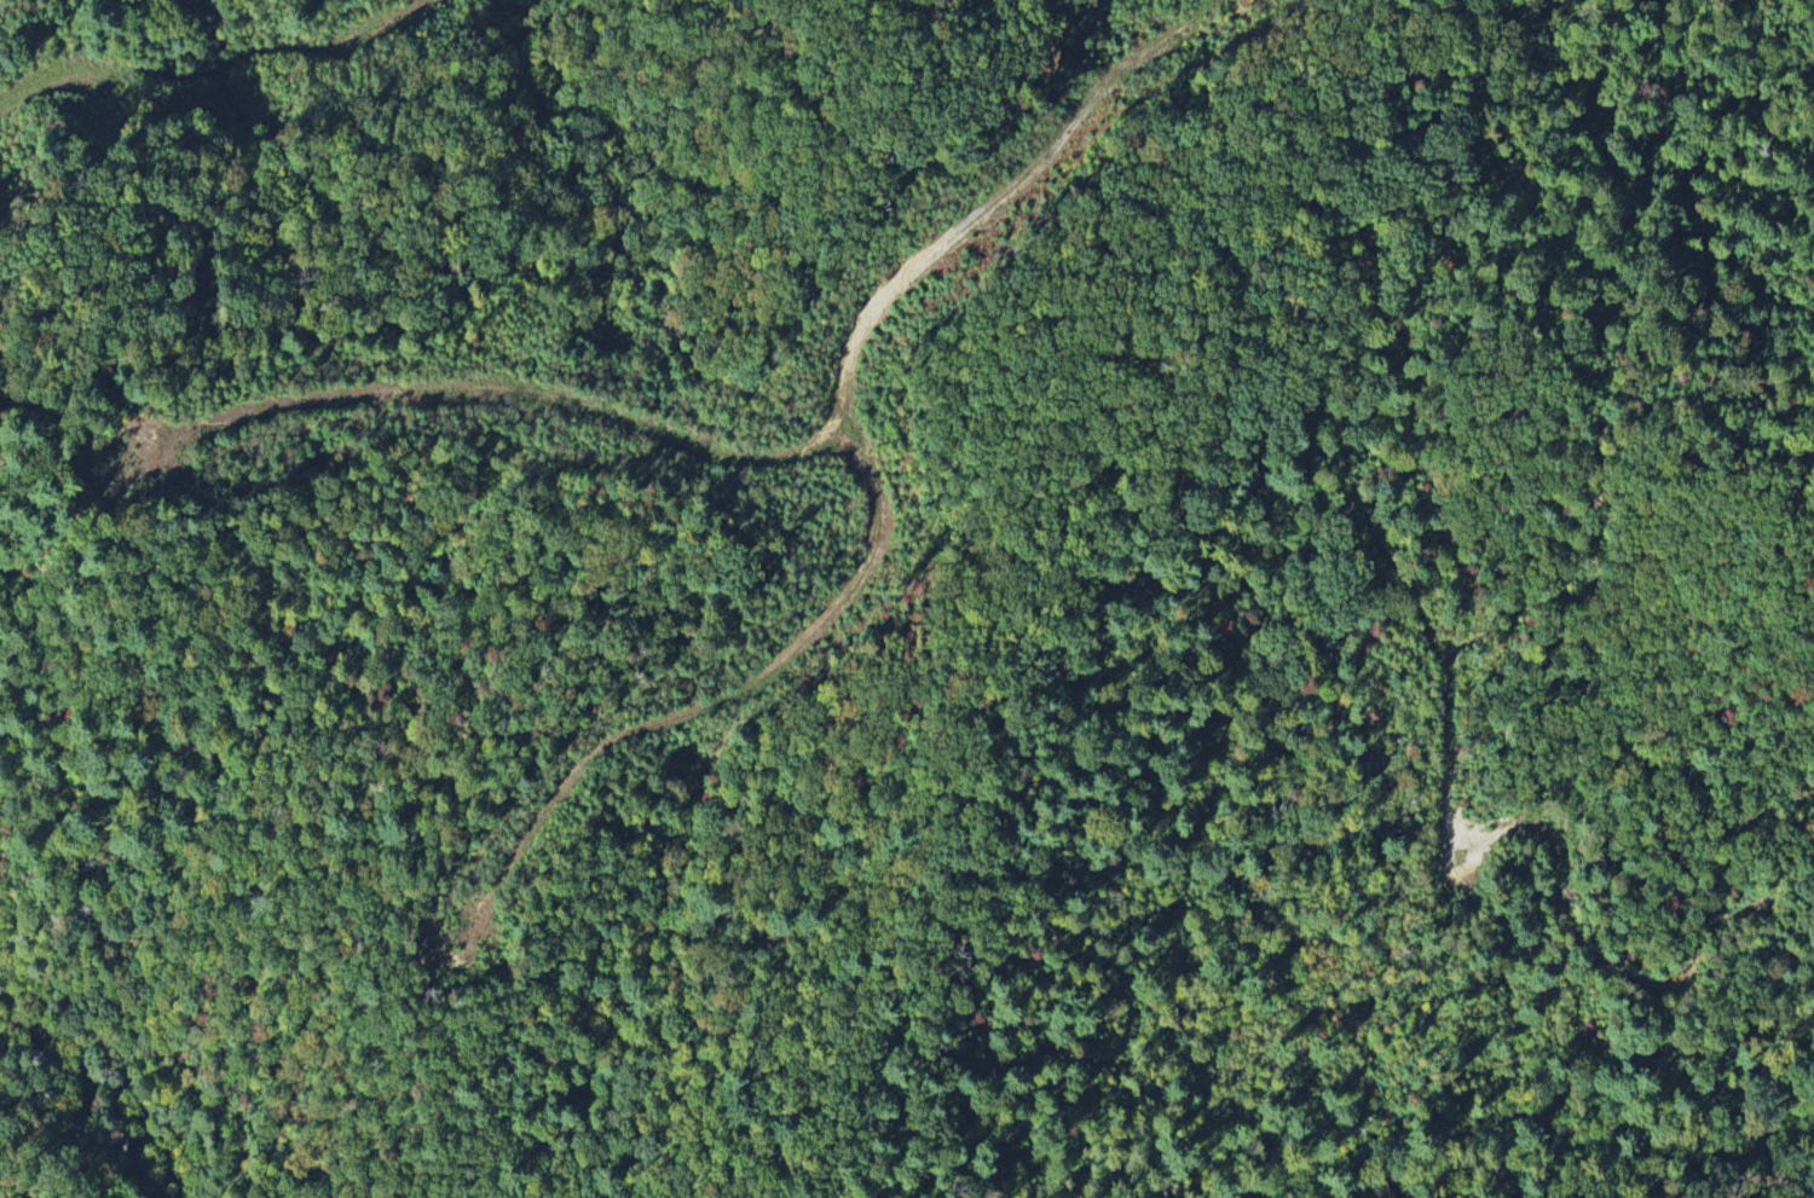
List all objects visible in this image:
road: (214, 88)
road: (486, 394)
road: (878, 499)

